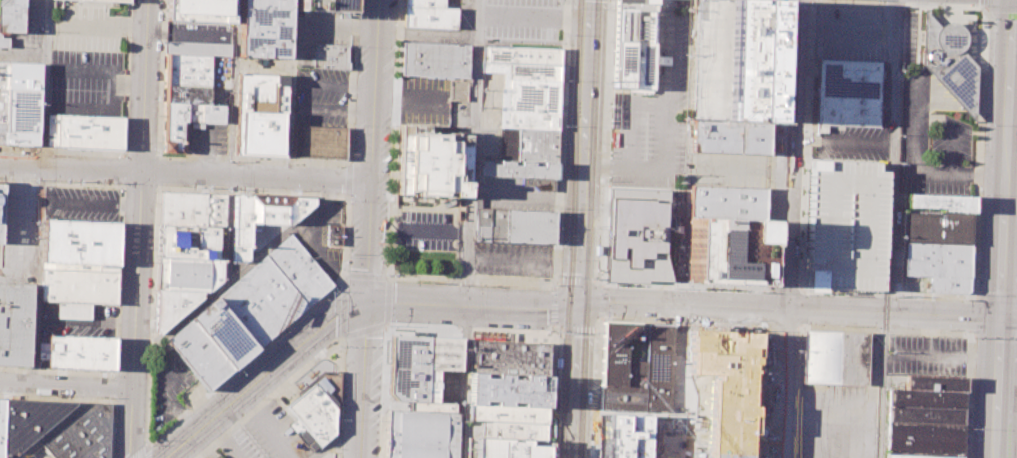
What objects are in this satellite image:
building: (112, 0)
road: (811, 0)
street lamp: (569, 1)
street lamp: (814, 2)
street lamp: (909, 2)
building: (424, 3)
road: (984, 3)
building: (325, 4)
street lamp: (778, 5)
street lamp: (980, 5)
road: (1000, 8)
building: (201, 10)
street lamp: (609, 10)
building: (11, 16)
building: (428, 17)
parking lot: (463, 17)
parking lot: (522, 18)
street lamp: (986, 20)
parking lot: (85, 27)
building: (264, 28)
building: (733, 28)
parking lot: (319, 31)
parking lot: (851, 33)
parking lot: (909, 35)
parking lot: (27, 36)
parking lot: (199, 37)
building: (632, 44)
street lamp: (395, 45)
street lamp: (355, 46)
road: (674, 49)
building: (520, 55)
building: (330, 56)
building: (433, 59)
road: (661, 61)
street lamp: (161, 62)
building: (950, 62)
building: (521, 71)
street lamp: (775, 75)
parking lot: (86, 82)
road: (43, 84)
road: (233, 89)
parking lot: (730, 89)
road: (289, 90)
road: (961, 90)
road: (995, 91)
building: (848, 92)
building: (531, 96)
parking lot: (320, 97)
building: (188, 98)
parking lot: (432, 100)
building: (19, 102)
building: (260, 114)
parking lot: (489, 115)
road: (688, 118)
building: (529, 120)
street lamp: (390, 122)
parking lot: (651, 123)
street lamp: (352, 126)
street lamp: (982, 126)
street lamp: (564, 127)
street lamp: (603, 130)
parking lot: (953, 130)
building: (84, 131)
road: (950, 131)
road: (626, 135)
parking lot: (206, 137)
building: (729, 137)
road: (124, 138)
road: (840, 140)
building: (319, 142)
parking lot: (855, 143)
street lamp: (993, 144)
building: (536, 145)
road: (371, 152)
road: (123, 155)
road: (665, 156)
road: (256, 160)
building: (428, 162)
road: (913, 163)
road: (123, 169)
parking lot: (728, 169)
building: (520, 172)
road: (185, 175)
road: (348, 179)
street lamp: (770, 180)
road: (61, 181)
street lamp: (118, 183)
road: (122, 183)
road: (123, 184)
road: (155, 185)
building: (0, 193)
parking lot: (512, 194)
street lamp: (391, 195)
street lamp: (980, 197)
street lamp: (347, 202)
building: (727, 202)
building: (938, 202)
parking lot: (81, 203)
building: (192, 209)
road: (155, 221)
building: (259, 221)
parking lot: (427, 222)
building: (845, 222)
parking lot: (845, 222)
building: (514, 224)
parking lot: (16, 225)
railway: (597, 225)
street lamp: (284, 227)
building: (935, 227)
road: (466, 228)
road: (785, 228)
road: (1002, 228)
road: (139, 229)
railway: (572, 229)
road: (582, 229)
railway: (589, 229)
road: (889, 229)
building: (638, 233)
building: (333, 234)
parking lot: (321, 238)
building: (190, 241)
road: (1009, 246)
street lamp: (156, 248)
street lamp: (558, 250)
street lamp: (598, 250)
building: (725, 251)
street lamp: (769, 255)
parking lot: (513, 257)
street lamp: (345, 258)
building: (78, 262)
street lamp: (390, 265)
building: (939, 265)
building: (298, 269)
building: (184, 273)
road: (357, 275)
road: (34, 276)
street lamp: (392, 276)
road: (474, 279)
parking lot: (78, 286)
road: (685, 286)
road: (782, 289)
street lamp: (974, 294)
road: (995, 297)
building: (261, 301)
road: (599, 302)
road: (630, 302)
road: (474, 304)
traffic signals: (369, 305)
building: (170, 306)
road: (553, 307)
road: (765, 307)
road: (799, 307)
road: (839, 309)
building: (14, 316)
traffic signals: (998, 316)
road: (1007, 316)
parking lot: (77, 319)
road: (677, 320)
road: (781, 325)
street lamp: (838, 326)
road: (883, 328)
road: (465, 330)
street lamp: (943, 330)
street lamp: (151, 331)
road: (362, 331)
road: (977, 332)
building: (223, 333)
road: (116, 336)
road: (277, 336)
railway: (560, 337)
street lamp: (973, 340)
street lamp: (338, 346)
building: (615, 350)
building: (80, 352)
building: (442, 353)
road: (680, 353)
building: (198, 354)
building: (835, 356)
parking lot: (927, 356)
building: (507, 358)
street lamp: (797, 363)
building: (406, 368)
building: (658, 368)
street lamp: (230, 369)
road: (263, 375)
road: (366, 381)
road: (66, 385)
parking lot: (172, 386)
parking lot: (441, 386)
building: (506, 390)
building: (625, 391)
street lamp: (266, 395)
parking lot: (843, 395)
street lamp: (37, 397)
road: (85, 397)
road: (268, 397)
road: (338, 398)
building: (723, 402)
building: (316, 406)
building: (506, 413)
building: (926, 417)
building: (24, 421)
street lamp: (145, 426)
building: (510, 430)
building: (421, 431)
street lamp: (971, 431)
building: (81, 435)
parking lot: (269, 435)
road: (337, 435)
street lamp: (158, 437)
parking lot: (836, 439)
street lamp: (551, 446)
building: (504, 448)
road: (140, 452)
road: (147, 452)
parking lot: (38, 454)
building: (216, 456)
building: (911, 456)

